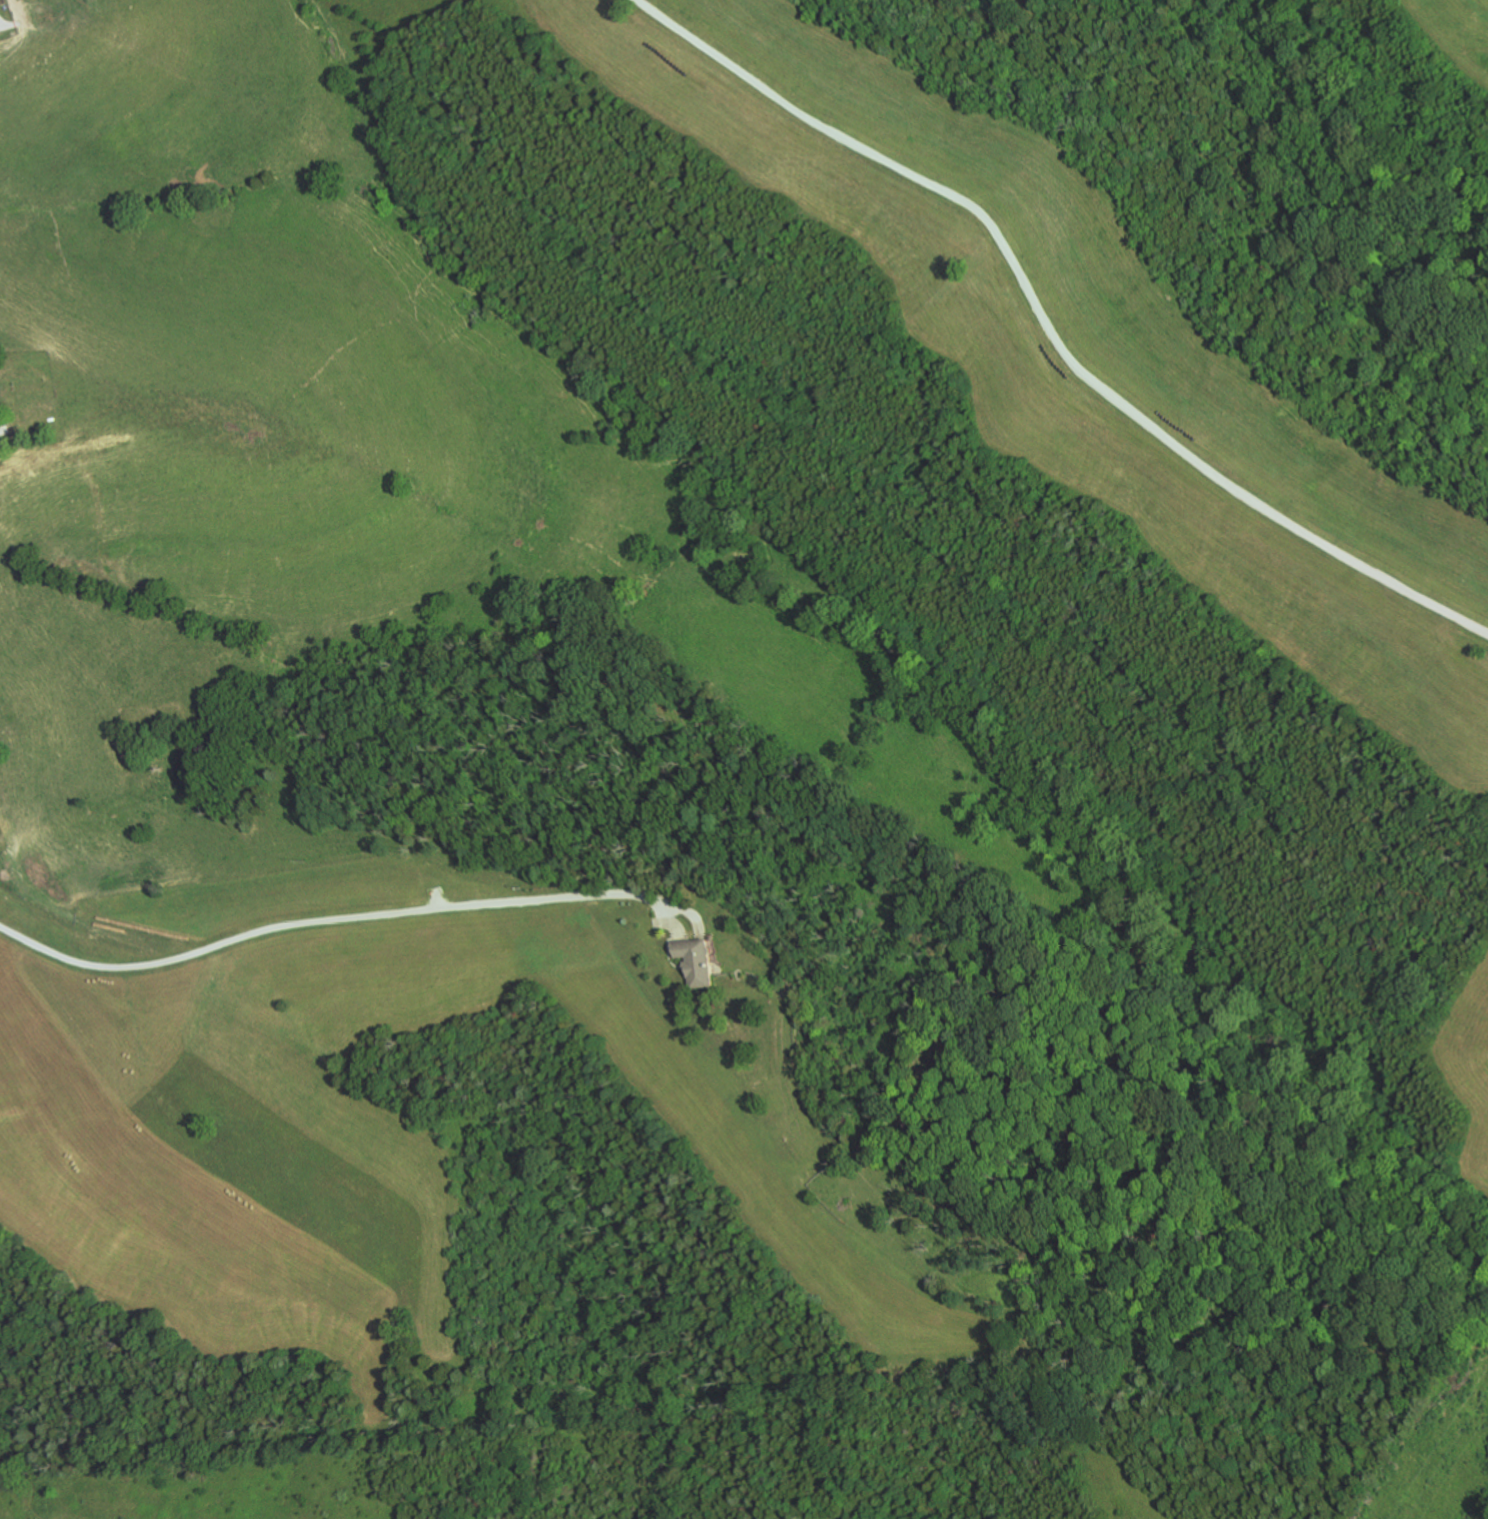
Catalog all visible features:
road: (1, 20)
road: (1050, 327)
road: (4, 429)
road: (39, 892)
road: (437, 898)
road: (359, 915)
road: (668, 920)
road: (675, 920)
road: (675, 950)
building: (703, 959)

